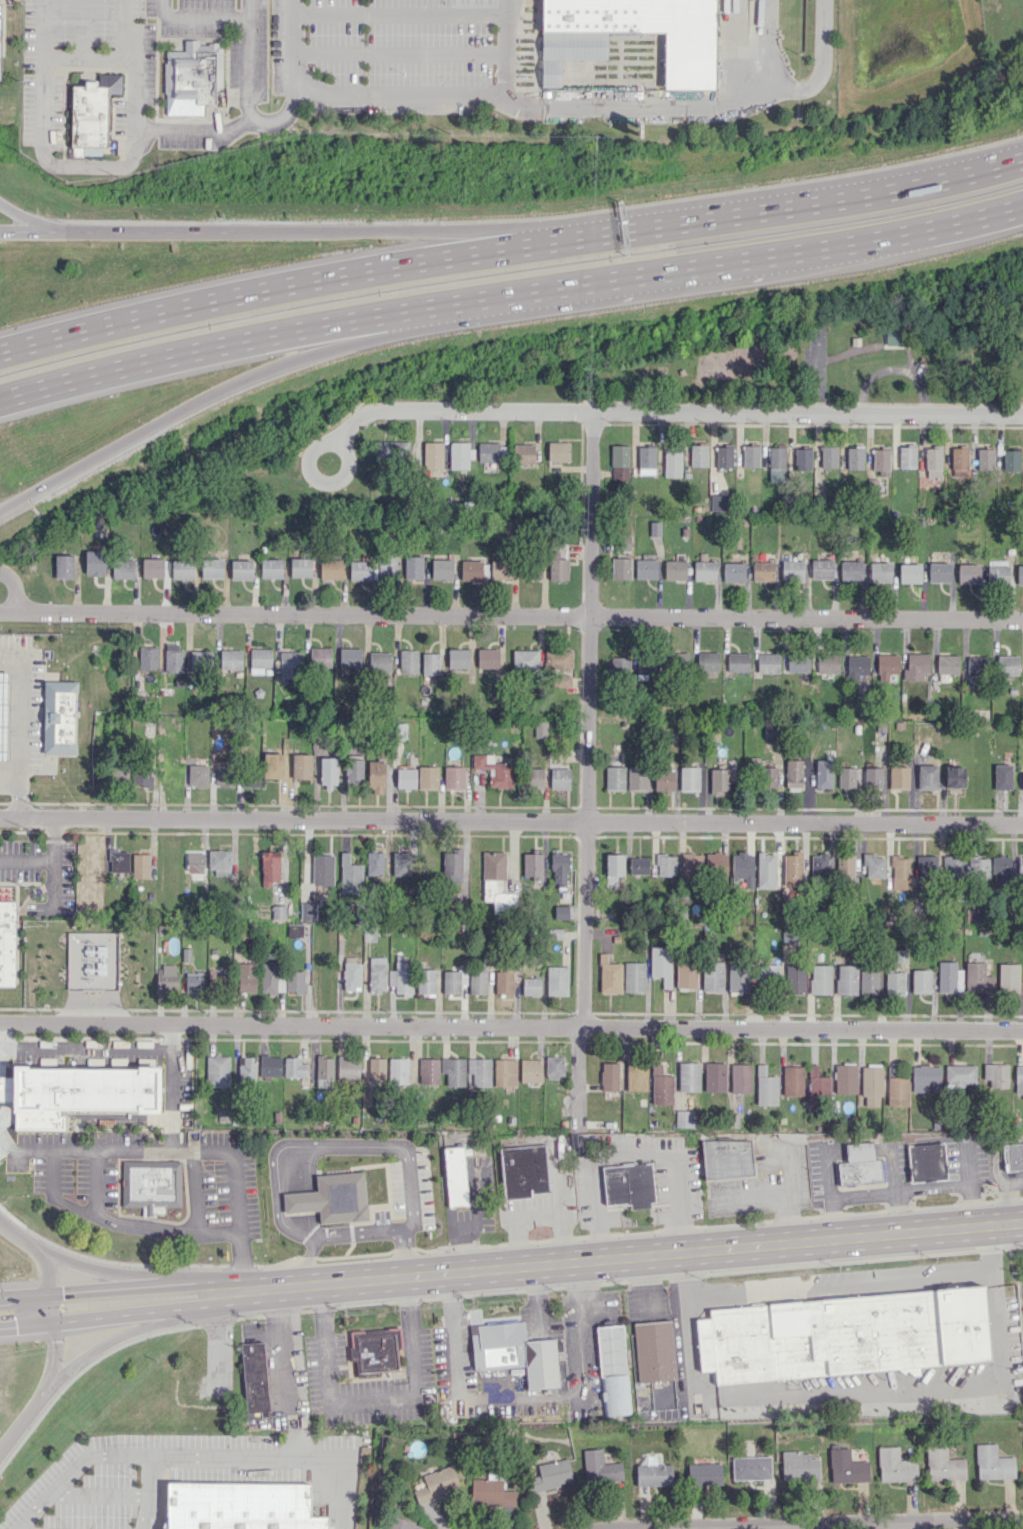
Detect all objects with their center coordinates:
parking lot: (5, 4)
road: (247, 10)
road: (399, 14)
road: (83, 28)
building: (652, 31)
building: (0, 34)
road: (294, 43)
parking lot: (388, 45)
road: (505, 50)
road: (399, 54)
road: (83, 56)
road: (821, 65)
parking lot: (86, 67)
building: (193, 74)
road: (399, 94)
building: (93, 109)
road: (682, 109)
road: (247, 115)
road: (280, 116)
building: (110, 148)
road: (53, 163)
road: (32, 220)
road: (287, 231)
road: (510, 248)
road: (510, 294)
park: (817, 364)
road: (898, 365)
road: (209, 394)
park: (561, 398)
road: (459, 410)
road: (808, 413)
building: (392, 451)
building: (489, 452)
building: (558, 452)
building: (523, 454)
building: (432, 455)
building: (460, 455)
road: (308, 456)
building: (698, 456)
building: (724, 456)
building: (750, 456)
building: (906, 456)
building: (828, 457)
building: (854, 457)
building: (802, 459)
building: (880, 459)
building: (985, 459)
building: (646, 460)
building: (1010, 460)
building: (672, 462)
building: (932, 462)
building: (959, 462)
building: (619, 463)
building: (776, 464)
building: (94, 563)
building: (557, 565)
building: (63, 566)
building: (387, 567)
building: (152, 568)
building: (211, 568)
building: (270, 568)
building: (300, 568)
building: (413, 568)
building: (620, 568)
building: (122, 569)
building: (182, 569)
building: (241, 569)
building: (330, 569)
building: (442, 569)
building: (500, 569)
building: (646, 569)
building: (821, 569)
building: (360, 570)
building: (470, 570)
building: (675, 570)
building: (704, 570)
building: (792, 570)
building: (850, 570)
building: (762, 571)
building: (733, 572)
building: (880, 572)
building: (939, 572)
building: (909, 573)
building: (968, 574)
building: (998, 575)
building: (1019, 575)
road: (12, 590)
road: (511, 615)
road: (589, 617)
building: (320, 657)
building: (349, 657)
building: (173, 658)
building: (488, 658)
building: (147, 659)
building: (200, 659)
building: (230, 659)
building: (459, 659)
building: (526, 660)
building: (559, 660)
building: (260, 661)
building: (379, 661)
building: (677, 661)
building: (707, 661)
building: (408, 662)
building: (738, 662)
building: (767, 663)
building: (290, 664)
building: (430, 664)
building: (797, 664)
building: (827, 664)
building: (947, 664)
building: (1007, 664)
building: (619, 665)
building: (645, 666)
building: (887, 666)
building: (915, 666)
building: (977, 666)
building: (857, 667)
building: (561, 681)
building: (4, 715)
building: (59, 716)
gas station: (42, 717)
road: (20, 718)
building: (540, 729)
building: (273, 766)
building: (301, 766)
building: (354, 770)
building: (494, 771)
building: (327, 772)
building: (793, 773)
building: (823, 774)
building: (199, 776)
building: (222, 776)
building: (142, 777)
building: (376, 777)
building: (428, 777)
building: (767, 777)
building: (846, 777)
building: (872, 777)
building: (898, 777)
building: (926, 777)
building: (954, 777)
building: (1002, 777)
building: (406, 778)
building: (454, 778)
building: (614, 778)
building: (636, 778)
building: (249, 779)
building: (536, 779)
building: (559, 779)
building: (689, 779)
building: (663, 780)
building: (718, 781)
building: (1022, 781)
road: (20, 798)
road: (293, 820)
road: (805, 825)
road: (26, 859)
building: (119, 861)
building: (194, 862)
building: (219, 863)
road: (52, 864)
building: (374, 864)
building: (400, 864)
building: (716, 864)
building: (819, 864)
building: (88, 865)
building: (665, 865)
building: (691, 865)
building: (845, 865)
building: (873, 865)
building: (140, 866)
building: (638, 866)
building: (452, 867)
building: (926, 867)
building: (952, 867)
building: (978, 867)
building: (270, 868)
building: (765, 869)
building: (1001, 869)
building: (1020, 869)
building: (322, 870)
building: (560, 870)
building: (742, 870)
building: (792, 870)
building: (614, 871)
building: (900, 873)
building: (349, 876)
building: (496, 883)
building: (307, 911)
building: (561, 912)
road: (584, 925)
building: (294, 930)
building: (556, 934)
building: (788, 937)
building: (7, 943)
power substation: (92, 959)
building: (661, 964)
building: (686, 973)
building: (351, 974)
building: (376, 974)
building: (769, 974)
building: (217, 976)
building: (610, 976)
building: (712, 976)
building: (246, 977)
building: (268, 977)
building: (634, 977)
building: (948, 977)
building: (401, 978)
building: (738, 978)
building: (977, 978)
building: (166, 979)
building: (795, 979)
building: (1009, 979)
building: (820, 980)
building: (846, 980)
building: (294, 981)
building: (453, 981)
building: (557, 981)
building: (920, 981)
building: (426, 982)
building: (477, 982)
building: (503, 982)
building: (868, 982)
building: (194, 983)
building: (894, 984)
building: (531, 986)
road: (511, 1026)
road: (95, 1046)
building: (270, 1066)
building: (554, 1067)
building: (295, 1068)
building: (347, 1068)
building: (247, 1069)
building: (376, 1069)
building: (217, 1071)
building: (398, 1071)
building: (429, 1071)
building: (453, 1071)
building: (531, 1071)
building: (479, 1072)
building: (505, 1072)
building: (324, 1073)
road: (581, 1074)
building: (960, 1075)
building: (996, 1075)
building: (636, 1076)
building: (609, 1077)
building: (688, 1077)
building: (714, 1077)
building: (924, 1077)
building: (740, 1078)
building: (845, 1079)
building: (1019, 1079)
building: (792, 1081)
building: (817, 1085)
building: (660, 1086)
building: (871, 1086)
building: (765, 1087)
building: (6, 1089)
building: (897, 1091)
building: (82, 1094)
road: (172, 1097)
building: (684, 1118)
road: (288, 1146)
road: (180, 1148)
road: (630, 1153)
building: (1013, 1156)
building: (727, 1160)
building: (860, 1166)
building: (523, 1168)
building: (456, 1176)
building: (151, 1183)
building: (629, 1185)
building: (342, 1197)
road: (411, 1199)
road: (535, 1217)
road: (472, 1220)
road: (119, 1223)
road: (378, 1230)
road: (17, 1236)
road: (851, 1236)
road: (302, 1263)
road: (500, 1267)
road: (107, 1272)
road: (841, 1283)
road: (306, 1285)
road: (201, 1287)
road: (256, 1288)
road: (91, 1290)
road: (44, 1292)
traffic signals: (61, 1293)
road: (137, 1313)
road: (25, 1325)
traffic signals: (15, 1327)
road: (53, 1332)
building: (843, 1335)
road: (584, 1338)
traffic signals: (56, 1341)
building: (374, 1351)
building: (654, 1351)
building: (514, 1352)
road: (78, 1360)
building: (613, 1369)
road: (300, 1371)
parking lot: (275, 1372)
building: (255, 1376)
road: (458, 1377)
road: (863, 1398)
road: (375, 1401)
road: (284, 1455)
building: (993, 1463)
building: (943, 1464)
building: (895, 1466)
building: (799, 1467)
building: (846, 1467)
building: (600, 1468)
building: (751, 1468)
road: (70, 1469)
building: (704, 1474)
building: (552, 1475)
building: (653, 1475)
parking lot: (176, 1476)
building: (437, 1485)
road: (148, 1491)
building: (491, 1493)
building: (240, 1506)
building: (398, 1523)
road: (833, 1523)
road: (680, 1528)

